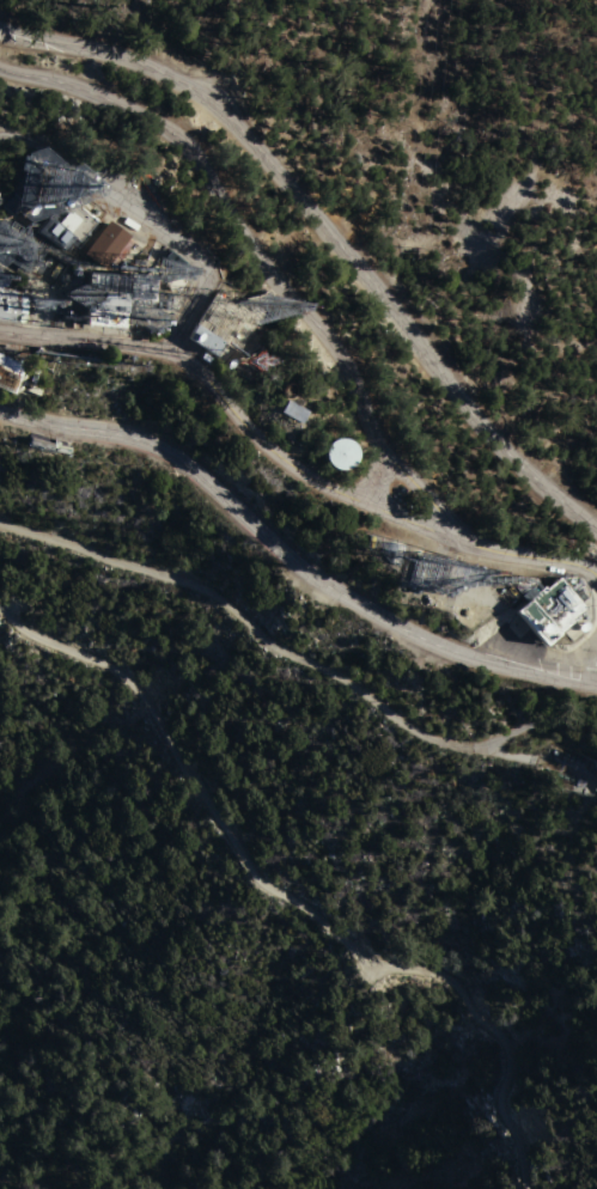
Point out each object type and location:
road: (444, 147)
building: (0, 197)
building: (13, 203)
building: (66, 222)
road: (325, 234)
building: (106, 243)
building: (20, 244)
building: (142, 249)
road: (263, 264)
road: (203, 288)
building: (115, 295)
building: (12, 303)
building: (223, 324)
road: (83, 341)
building: (10, 371)
building: (261, 407)
building: (293, 410)
building: (49, 444)
building: (311, 451)
building: (341, 452)
road: (359, 502)
road: (290, 559)
building: (549, 609)
road: (249, 624)
road: (540, 726)
road: (507, 757)
road: (290, 898)

